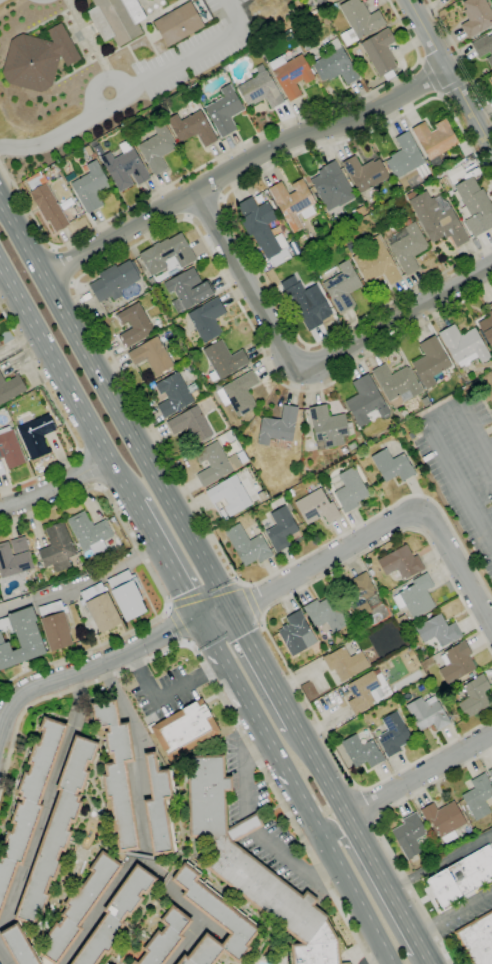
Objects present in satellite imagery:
building: (325, 1)
parking lot: (216, 5)
building: (332, 8)
building: (313, 13)
building: (476, 17)
building: (116, 19)
building: (359, 21)
building: (178, 24)
building: (307, 46)
building: (484, 48)
building: (380, 53)
road: (460, 54)
building: (37, 59)
parking lot: (184, 59)
building: (335, 65)
road: (449, 74)
building: (290, 75)
road: (430, 78)
road: (99, 81)
road: (134, 86)
building: (194, 87)
building: (260, 91)
building: (224, 111)
building: (129, 124)
building: (192, 129)
building: (434, 141)
building: (157, 148)
building: (93, 156)
road: (220, 156)
building: (406, 158)
road: (240, 164)
building: (122, 167)
building: (53, 171)
building: (365, 174)
building: (332, 187)
building: (90, 188)
building: (293, 203)
building: (48, 204)
building: (475, 206)
road: (203, 208)
road: (230, 217)
building: (436, 219)
building: (262, 230)
building: (407, 246)
building: (167, 254)
building: (376, 263)
road: (63, 266)
building: (114, 280)
building: (342, 287)
building: (188, 290)
building: (305, 304)
building: (490, 305)
building: (207, 320)
building: (135, 325)
building: (486, 328)
road: (98, 333)
building: (0, 344)
building: (463, 347)
building: (152, 355)
building: (223, 360)
building: (430, 362)
road: (303, 369)
road: (64, 379)
building: (396, 383)
building: (10, 387)
building: (239, 393)
building: (174, 394)
building: (365, 401)
road: (115, 406)
road: (62, 417)
building: (191, 424)
building: (278, 426)
building: (327, 427)
building: (36, 435)
road: (434, 439)
building: (352, 445)
building: (10, 448)
building: (343, 450)
building: (215, 463)
building: (392, 466)
road: (87, 470)
parking lot: (464, 474)
road: (55, 485)
building: (350, 490)
building: (290, 493)
building: (230, 495)
building: (316, 507)
road: (383, 527)
building: (281, 528)
building: (89, 532)
building: (19, 545)
building: (247, 545)
building: (57, 547)
road: (164, 556)
building: (13, 561)
building: (400, 562)
building: (371, 572)
building: (38, 576)
road: (156, 582)
road: (81, 583)
road: (206, 594)
building: (126, 595)
building: (362, 596)
building: (416, 596)
road: (252, 602)
building: (100, 608)
traffic signals: (229, 611)
building: (325, 613)
traffic signals: (201, 618)
building: (403, 620)
road: (178, 624)
building: (55, 625)
road: (264, 629)
building: (438, 630)
building: (295, 632)
building: (354, 632)
building: (20, 638)
building: (421, 655)
building: (456, 662)
building: (345, 663)
road: (103, 664)
road: (263, 670)
road: (218, 690)
road: (165, 691)
building: (367, 691)
building: (475, 696)
building: (428, 713)
road: (260, 727)
building: (185, 729)
building: (393, 734)
building: (361, 751)
road: (246, 772)
building: (490, 772)
building: (117, 774)
road: (419, 775)
building: (478, 797)
road: (48, 802)
building: (29, 803)
road: (368, 803)
building: (158, 807)
building: (444, 819)
road: (142, 823)
road: (252, 823)
building: (57, 830)
road: (380, 834)
building: (409, 835)
parking lot: (490, 844)
road: (363, 846)
building: (243, 852)
road: (140, 856)
road: (440, 862)
road: (294, 864)
building: (462, 877)
road: (165, 880)
road: (169, 888)
road: (374, 894)
road: (354, 900)
building: (79, 907)
parking lot: (469, 907)
road: (452, 913)
building: (116, 916)
building: (214, 922)
building: (23, 926)
road: (213, 927)
building: (165, 937)
building: (477, 939)
road: (186, 941)
building: (18, 945)
building: (318, 948)
road: (3, 957)
road: (378, 959)
building: (43, 960)

